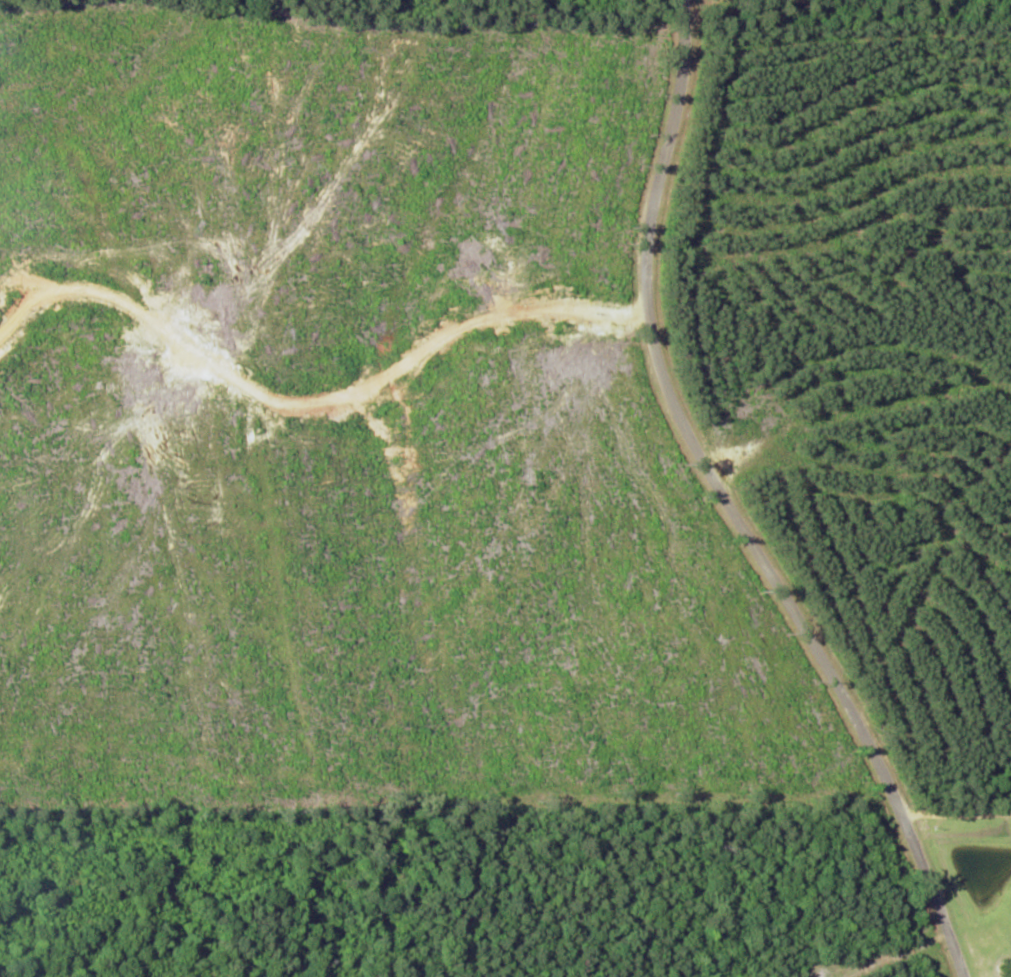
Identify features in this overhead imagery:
road: (724, 512)

